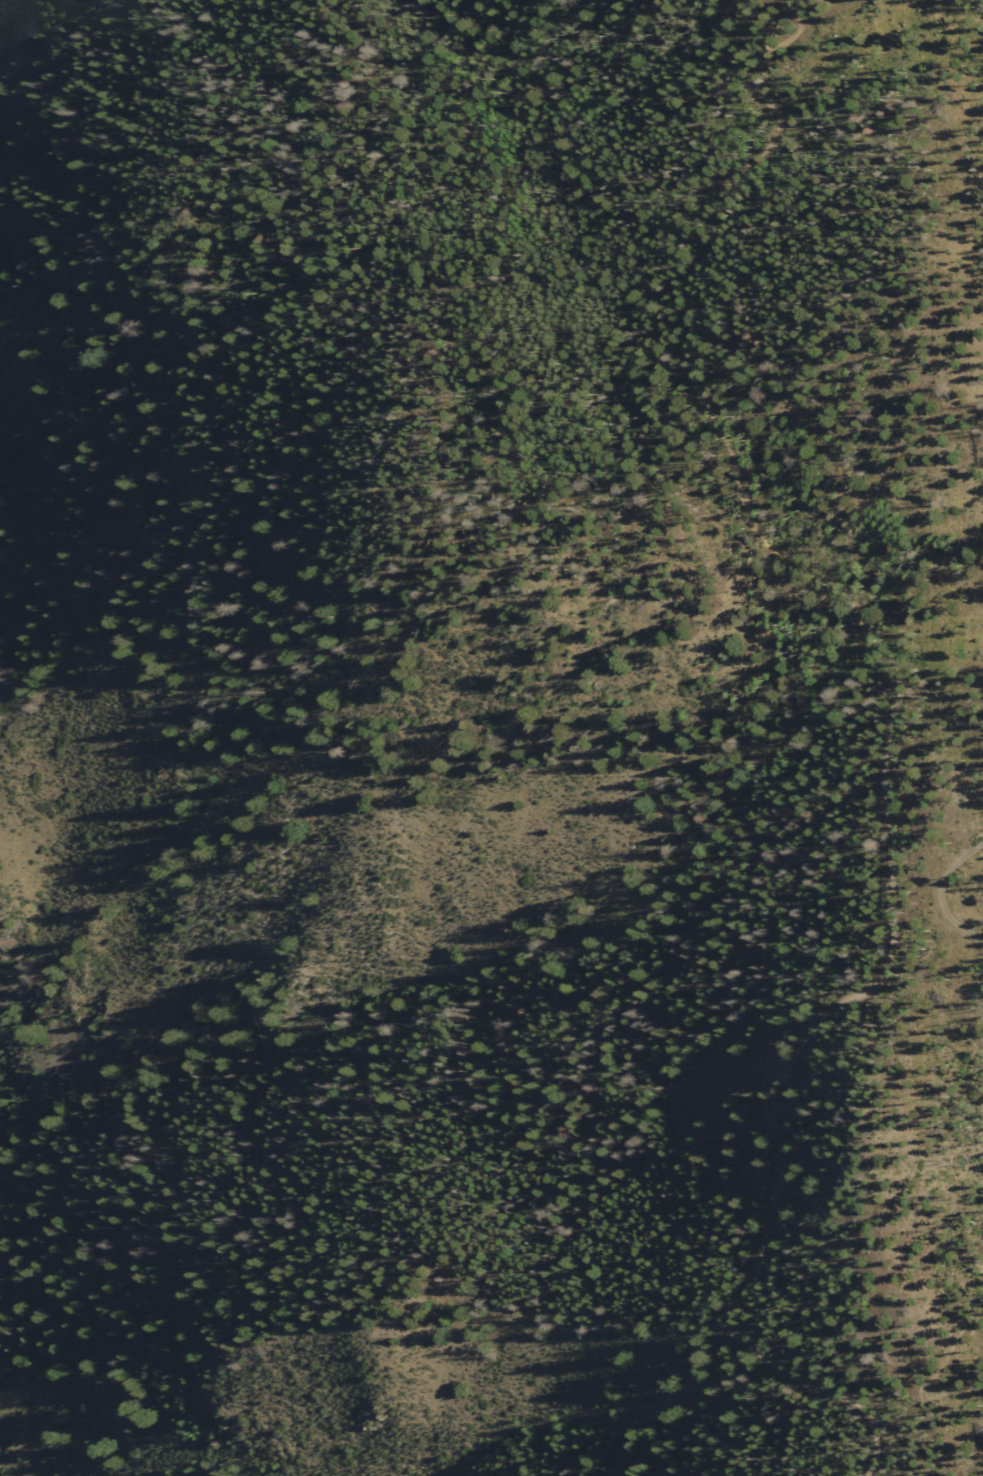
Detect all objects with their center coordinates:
road: (857, 747)
road: (946, 887)

